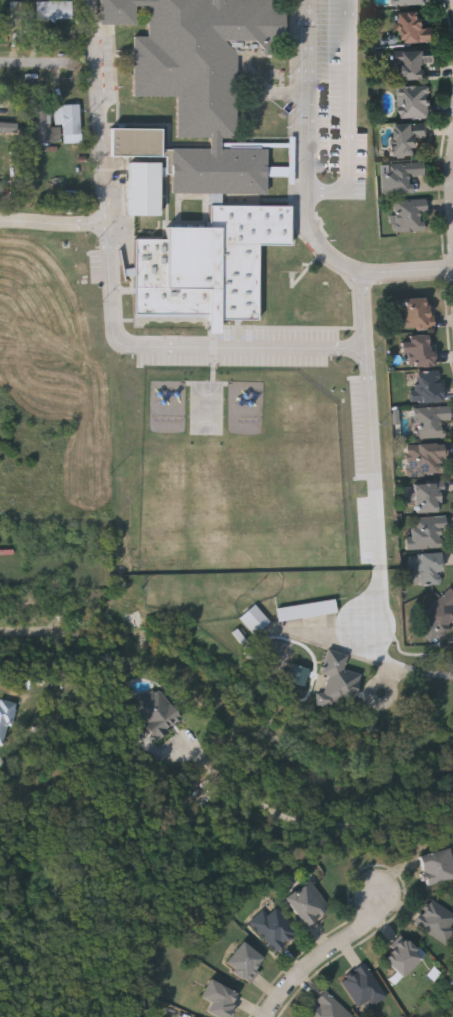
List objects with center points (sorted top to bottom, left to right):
building: (410, 1)
building: (42, 10)
building: (0, 19)
building: (415, 27)
building: (413, 62)
road: (38, 63)
building: (202, 81)
building: (413, 101)
road: (352, 110)
building: (70, 122)
building: (48, 128)
building: (408, 138)
building: (136, 142)
building: (168, 159)
road: (104, 165)
building: (400, 176)
building: (145, 189)
building: (2, 190)
road: (314, 194)
building: (410, 215)
building: (209, 265)
building: (416, 312)
road: (220, 348)
building: (418, 350)
building: (428, 385)
building: (432, 420)
building: (425, 458)
road: (376, 490)
building: (428, 495)
building: (427, 531)
building: (425, 567)
building: (307, 610)
building: (439, 614)
building: (255, 619)
road: (397, 665)
building: (299, 675)
building: (339, 681)
building: (156, 713)
building: (6, 717)
road: (309, 825)
building: (436, 866)
building: (307, 903)
building: (437, 921)
building: (273, 928)
road: (324, 953)
building: (403, 957)
building: (244, 961)
building: (362, 988)
building: (219, 999)
building: (327, 1008)

